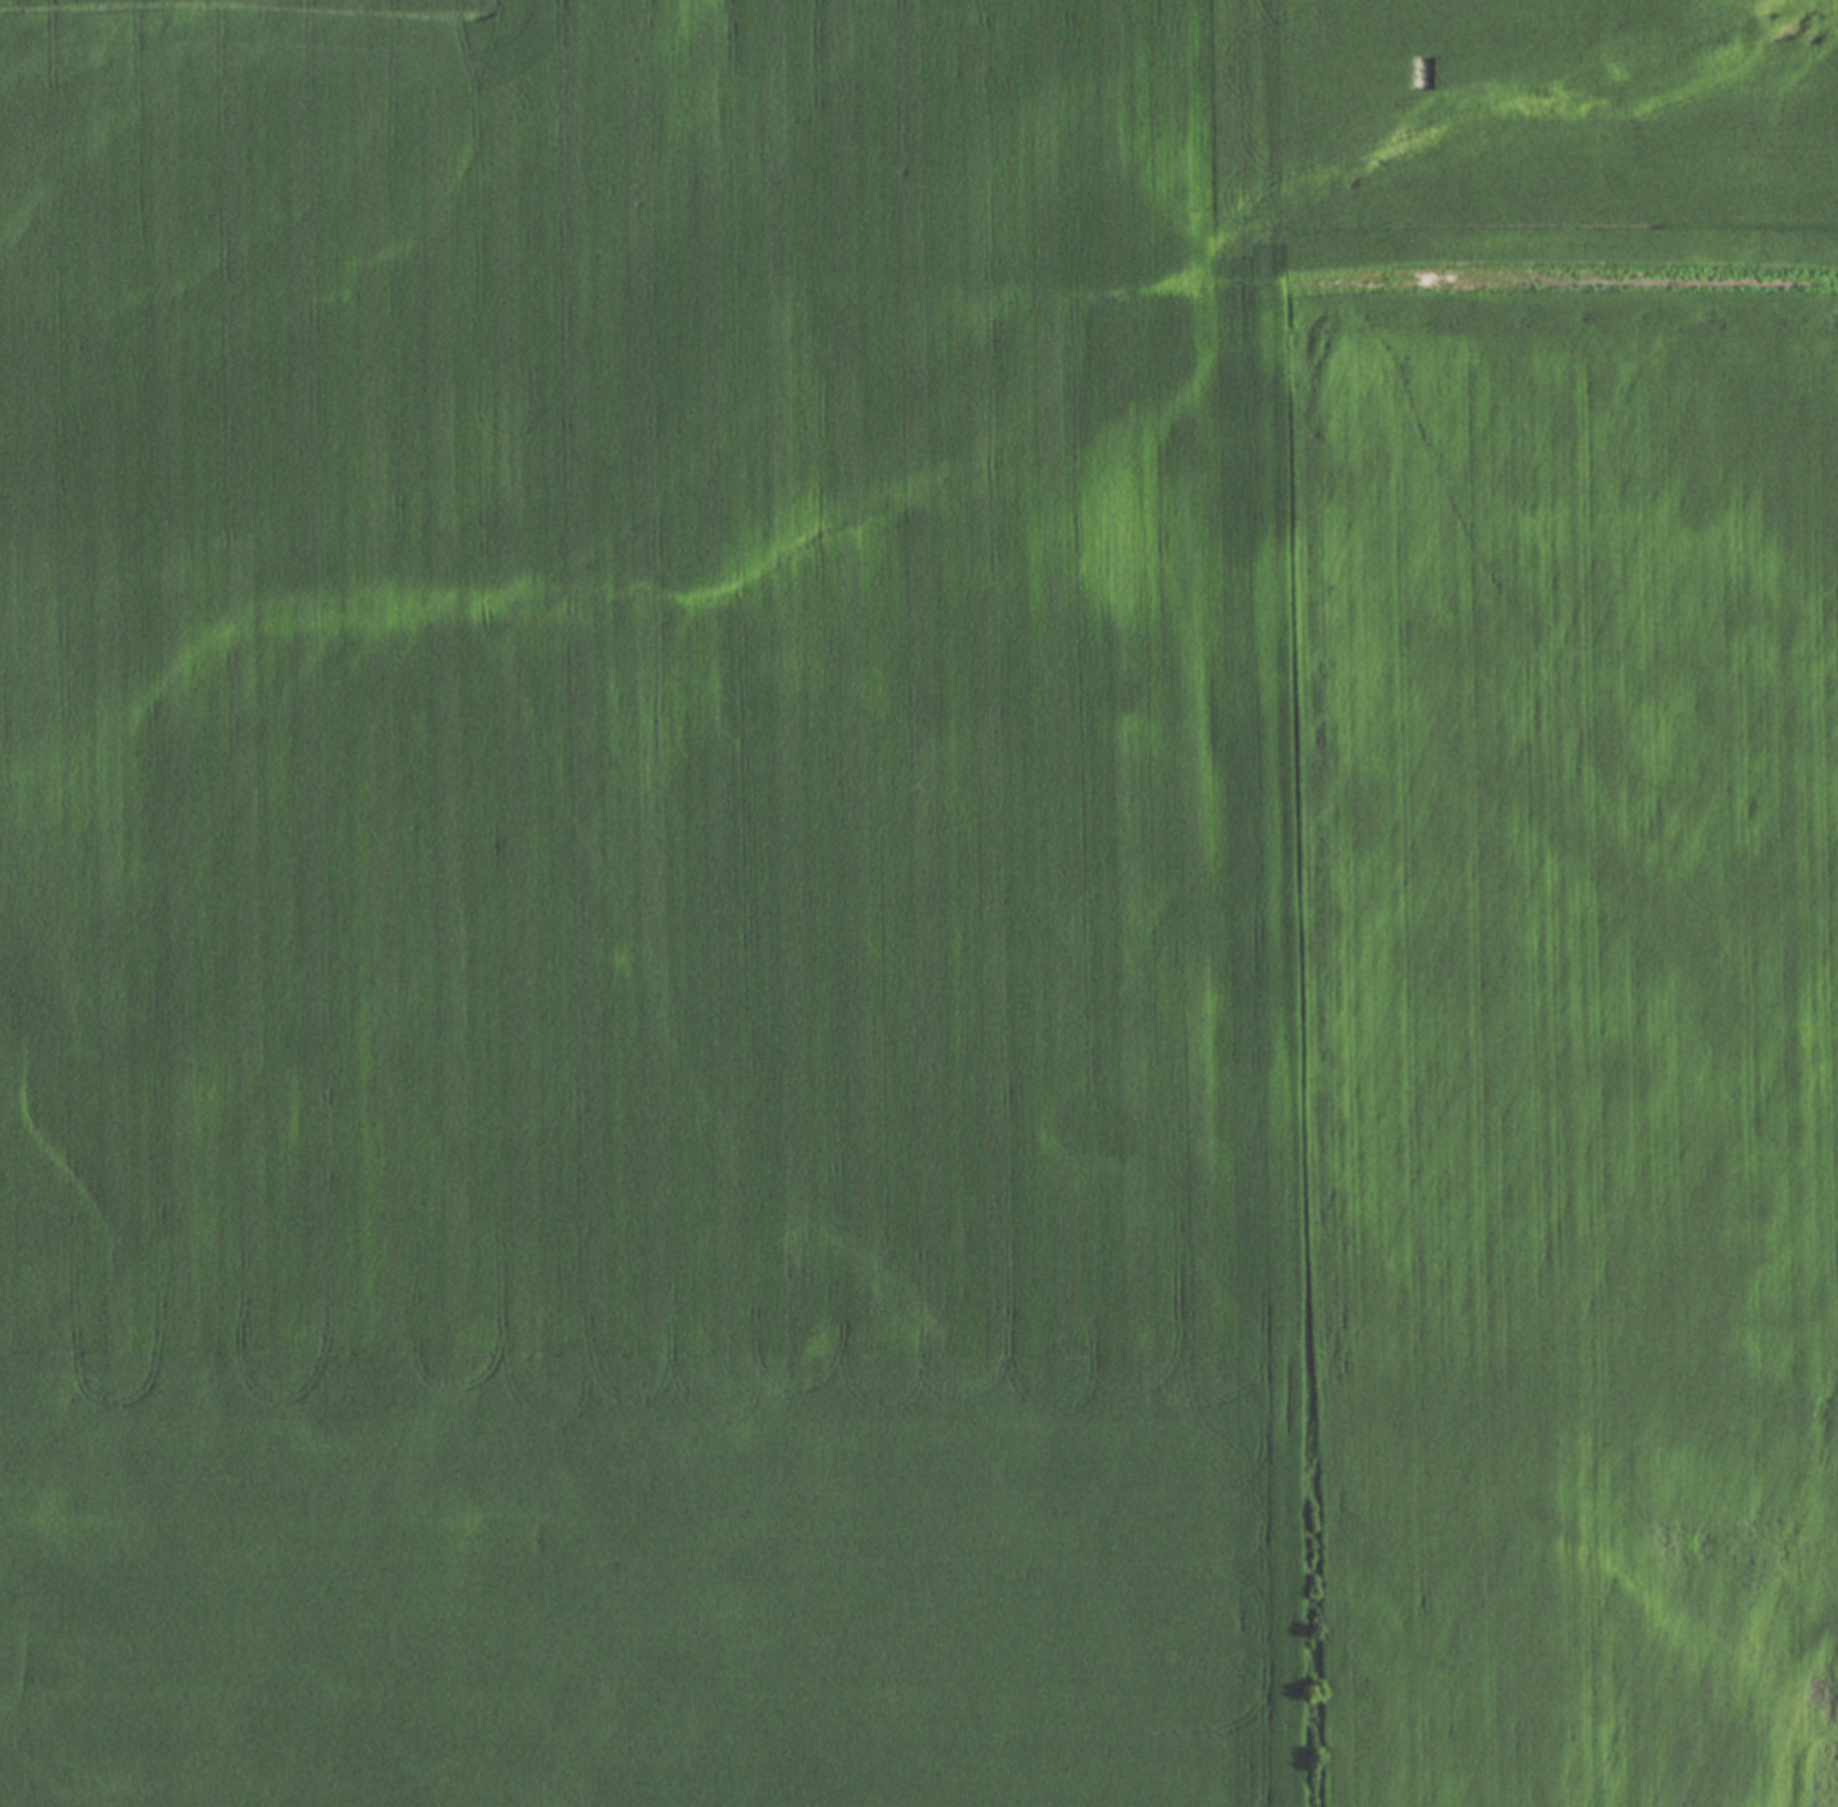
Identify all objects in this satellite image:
quarry: (178, 13)

